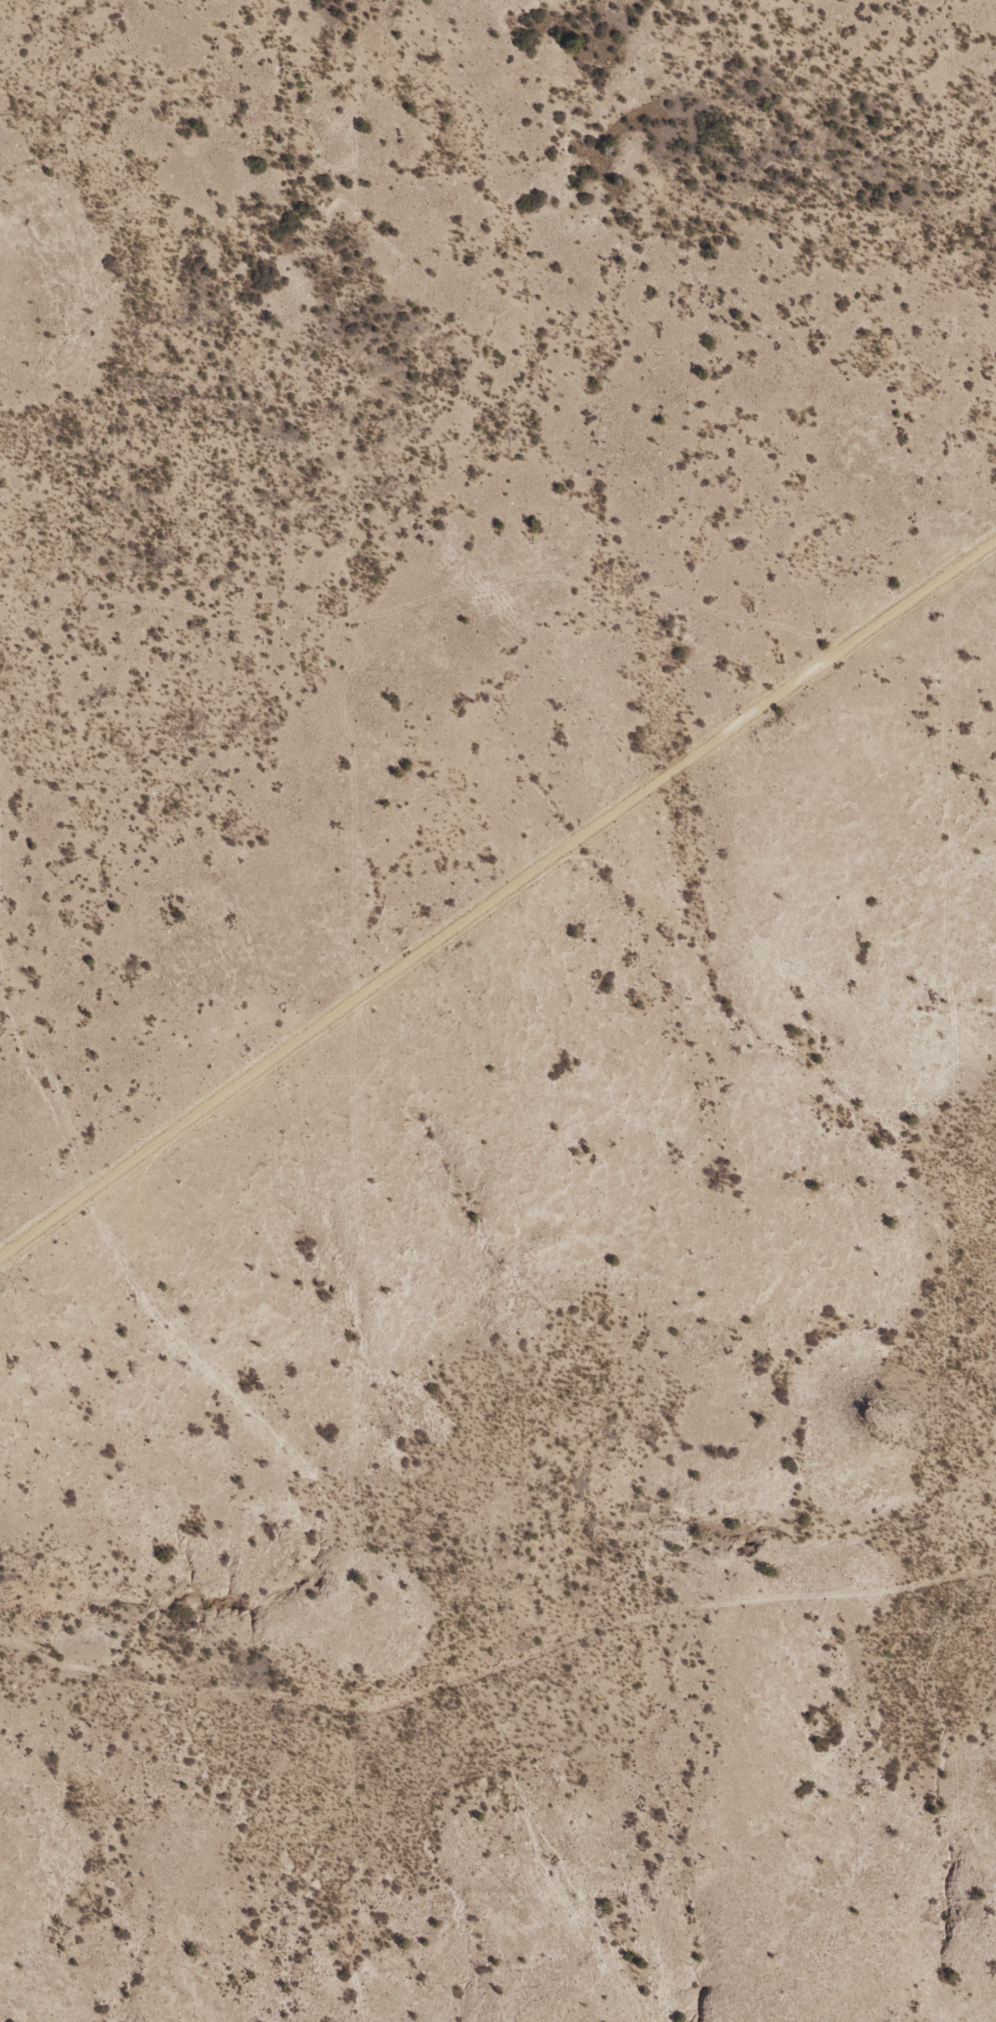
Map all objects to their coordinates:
road: (10, 672)

